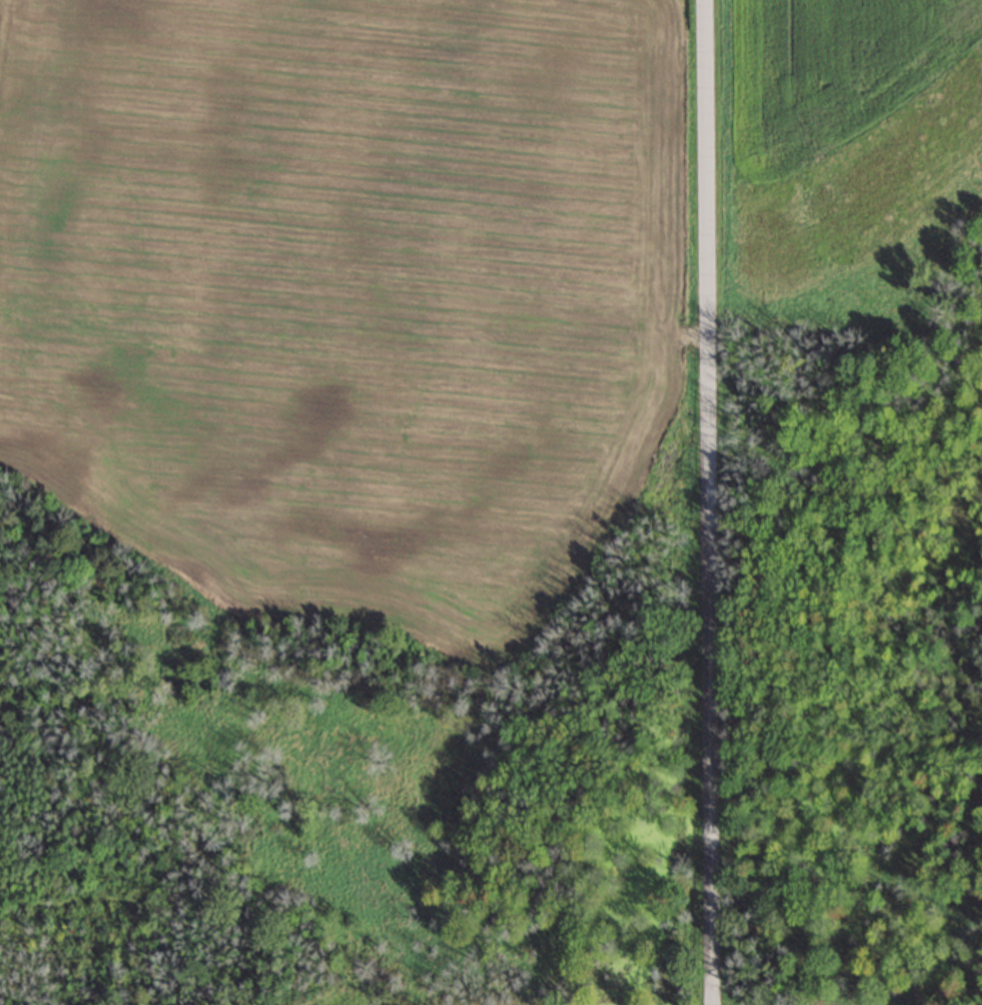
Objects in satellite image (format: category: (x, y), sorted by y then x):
road: (714, 502)

